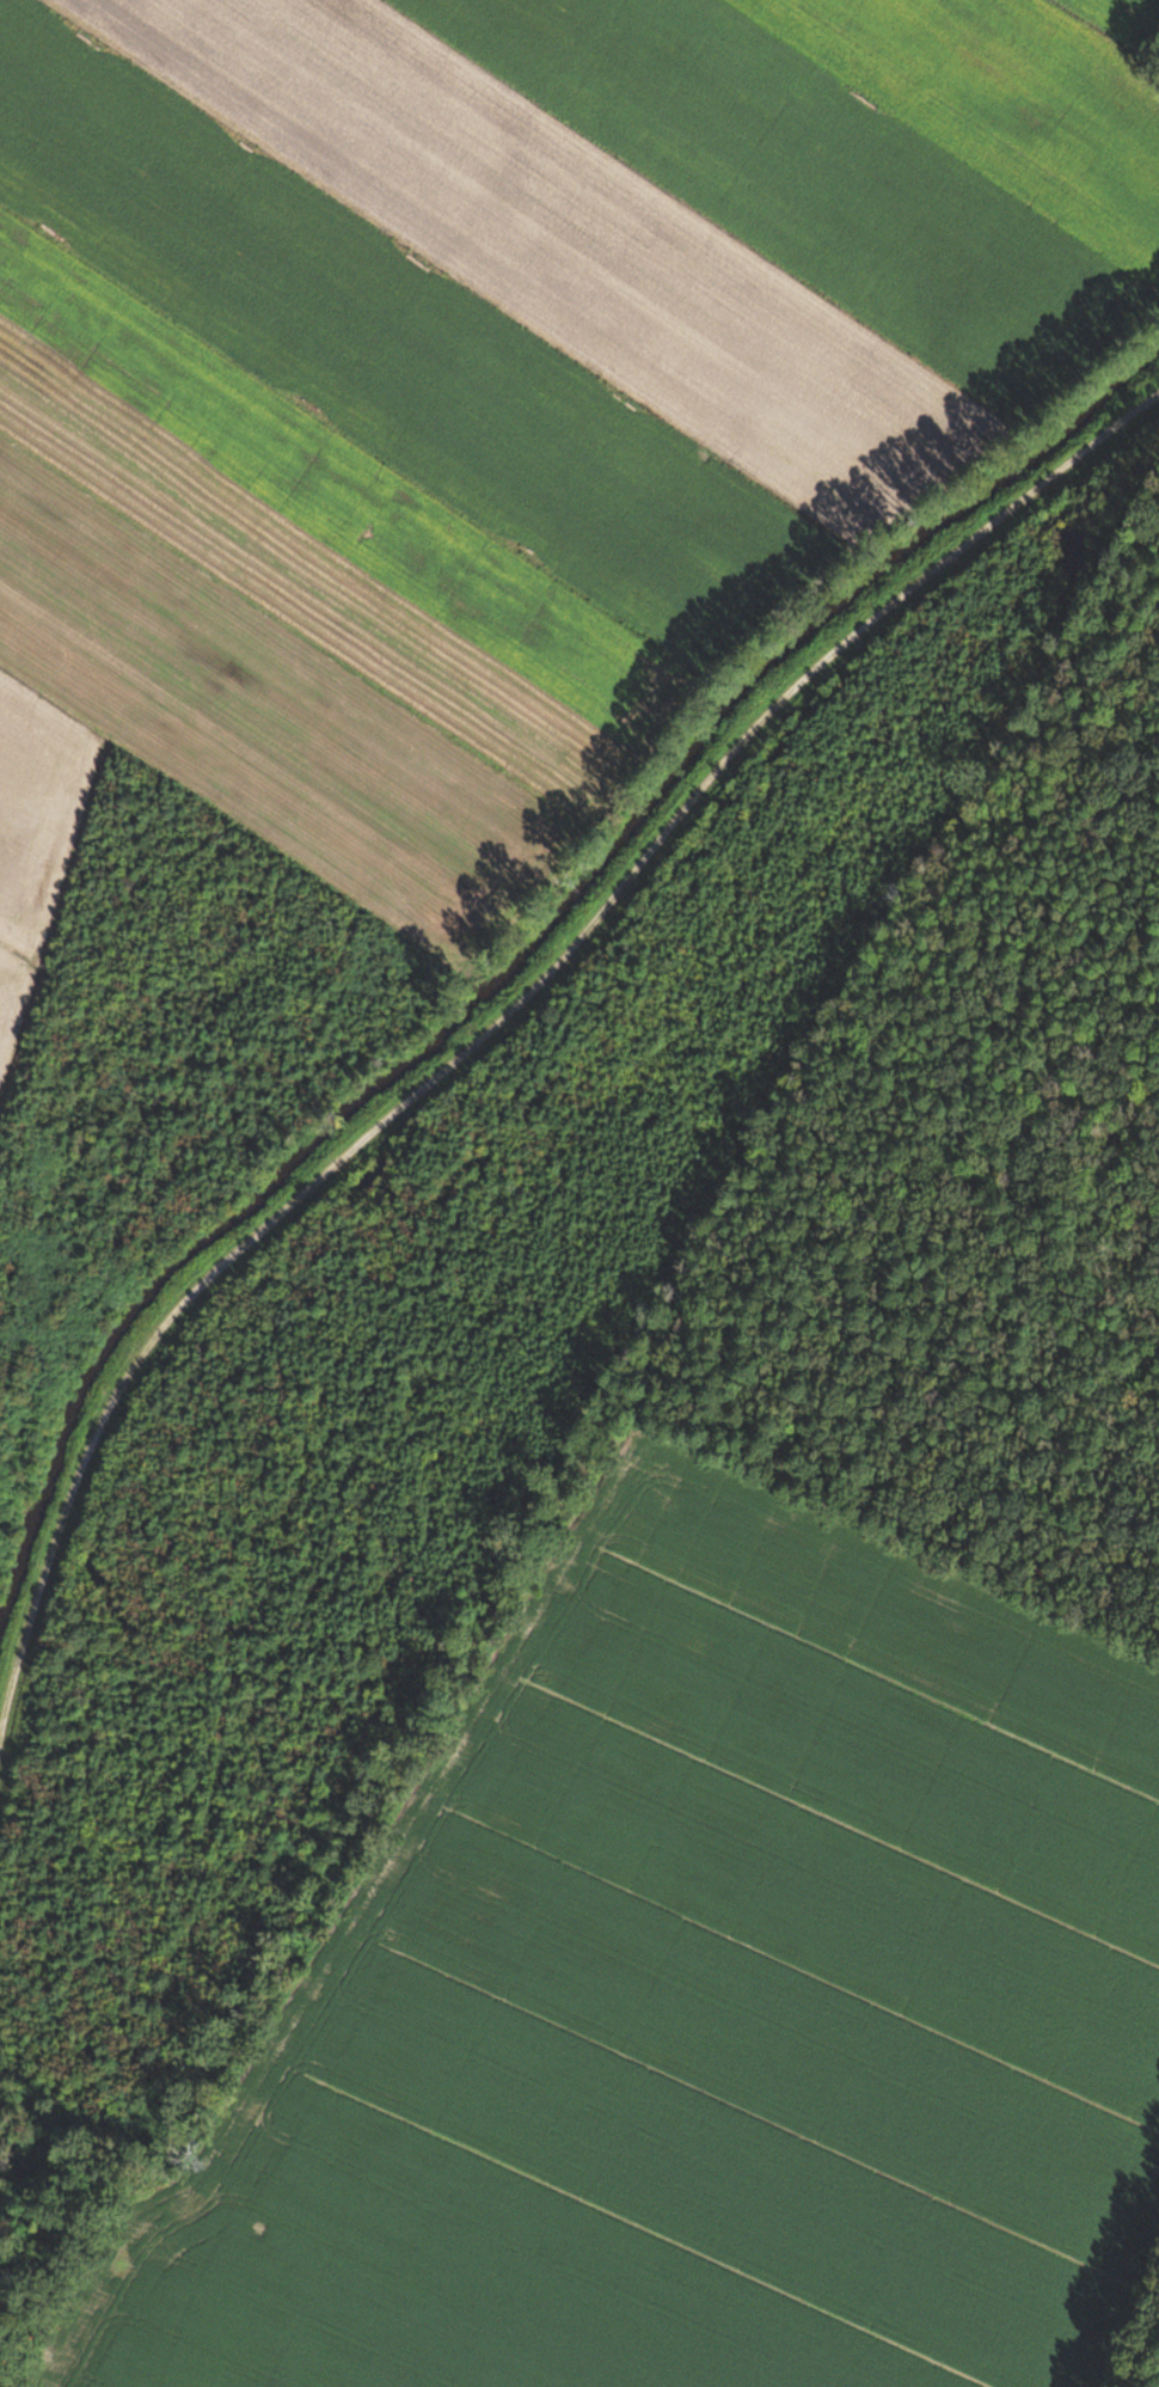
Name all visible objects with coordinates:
road: (510, 1009)

